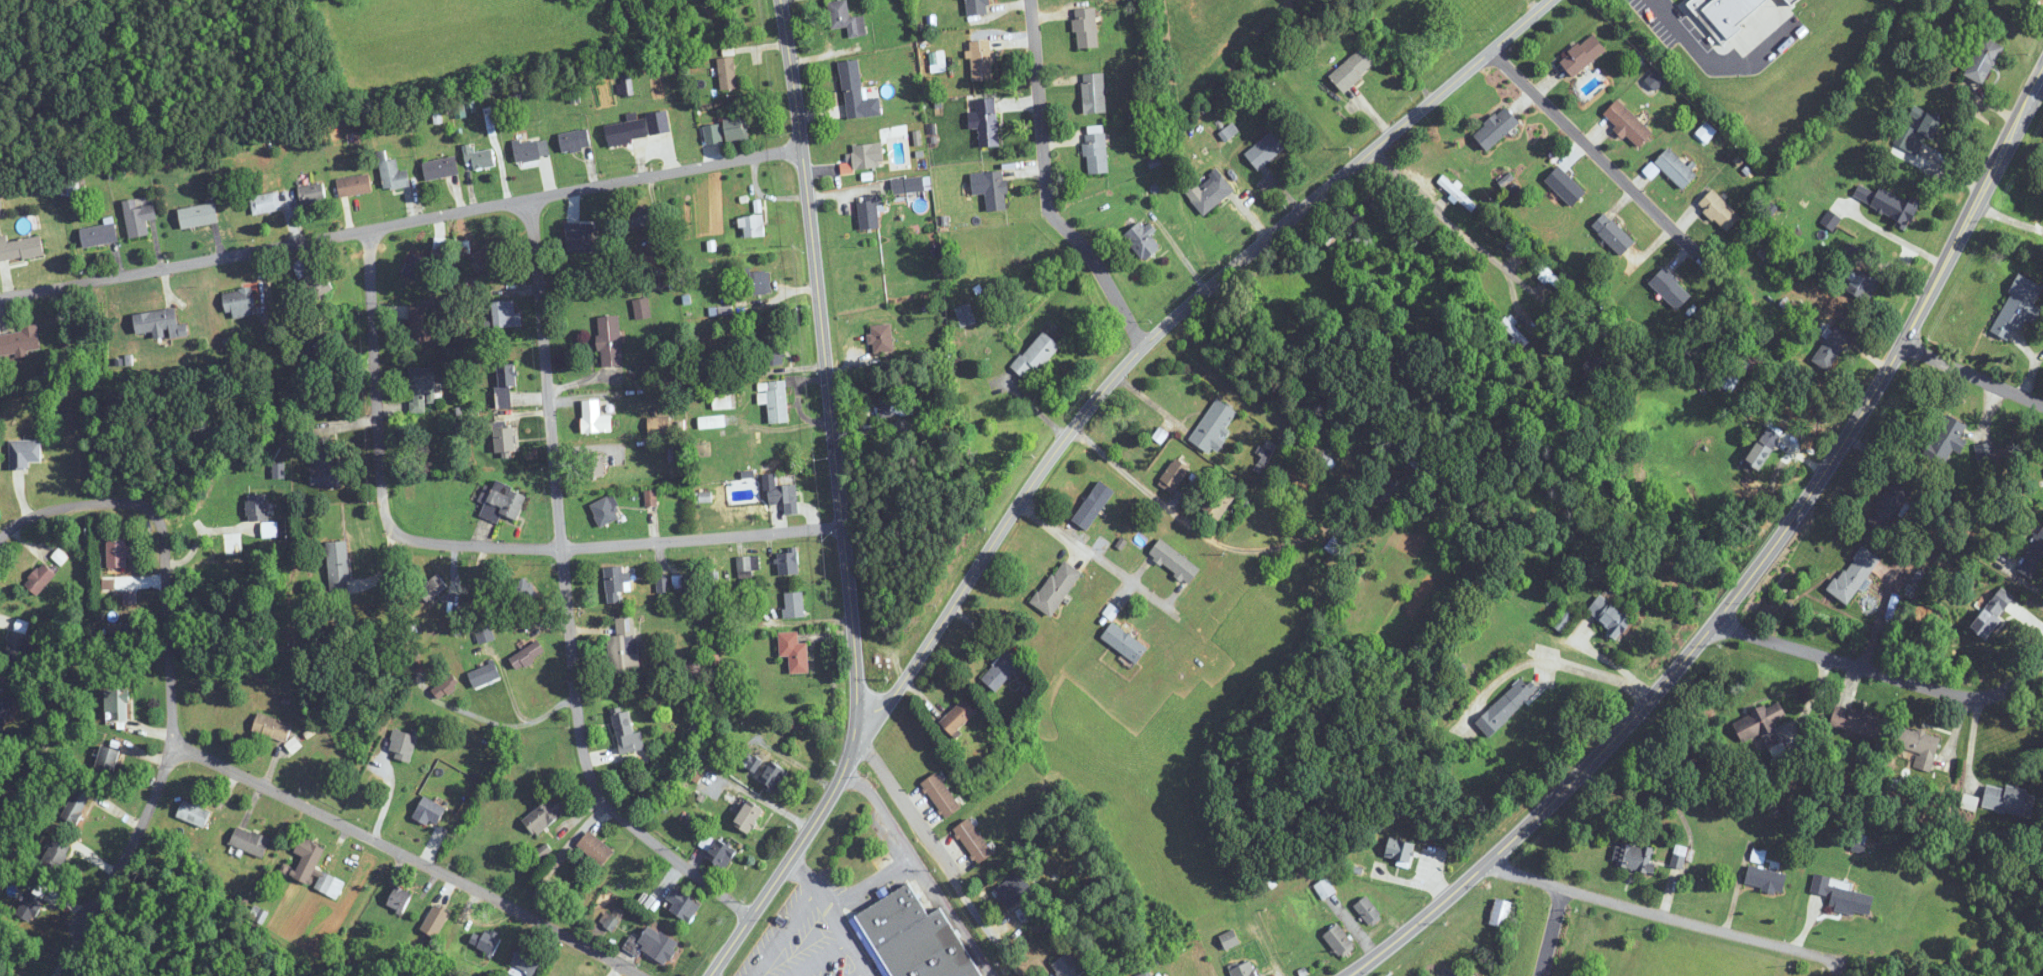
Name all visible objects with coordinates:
building: (1793, 1)
building: (976, 7)
building: (630, 13)
building: (1725, 14)
building: (846, 19)
building: (1086, 28)
building: (1583, 55)
building: (1984, 60)
building: (982, 61)
road: (1712, 65)
building: (1353, 69)
building: (727, 73)
building: (857, 93)
building: (1093, 93)
building: (1926, 122)
building: (987, 123)
building: (1628, 124)
building: (1496, 128)
building: (735, 129)
building: (626, 132)
building: (574, 141)
building: (527, 150)
building: (1096, 150)
building: (1266, 150)
building: (866, 157)
building: (478, 158)
road: (1609, 166)
building: (440, 168)
building: (1675, 169)
building: (392, 173)
building: (354, 185)
building: (908, 185)
building: (70, 186)
building: (1566, 186)
road: (1046, 188)
building: (995, 191)
building: (312, 193)
building: (1457, 194)
building: (1212, 195)
building: (265, 203)
building: (1886, 203)
building: (870, 211)
building: (1719, 211)
building: (198, 216)
building: (641, 217)
road: (2007, 217)
building: (138, 218)
road: (400, 222)
building: (752, 226)
building: (1613, 234)
building: (98, 235)
road: (1893, 237)
road: (1469, 240)
building: (1142, 241)
building: (1511, 241)
building: (582, 242)
building: (20, 248)
building: (487, 260)
building: (415, 267)
building: (1858, 273)
building: (1548, 276)
building: (313, 281)
building: (758, 282)
building: (1671, 289)
building: (240, 303)
building: (642, 308)
building: (2019, 308)
building: (505, 314)
building: (965, 315)
building: (419, 323)
building: (160, 324)
building: (1514, 332)
building: (881, 338)
building: (609, 340)
building: (19, 341)
road: (1148, 342)
building: (1831, 347)
building: (773, 353)
building: (1036, 354)
building: (1593, 369)
road: (1971, 373)
building: (505, 384)
building: (421, 388)
building: (774, 400)
building: (721, 402)
building: (887, 402)
building: (595, 418)
building: (658, 425)
building: (1213, 426)
building: (504, 438)
building: (1946, 440)
building: (1763, 448)
building: (24, 453)
building: (1985, 453)
building: (325, 463)
building: (593, 465)
building: (1173, 476)
building: (1380, 488)
building: (784, 496)
building: (501, 502)
building: (1218, 503)
road: (840, 504)
building: (1102, 504)
building: (1890, 506)
building: (606, 511)
building: (261, 515)
road: (1187, 520)
road: (204, 533)
road: (463, 545)
building: (117, 553)
building: (2033, 556)
building: (1174, 561)
building: (787, 562)
building: (747, 564)
building: (338, 565)
road: (1115, 568)
road: (1754, 569)
building: (1854, 575)
building: (40, 579)
building: (616, 583)
building: (432, 587)
building: (1056, 588)
building: (524, 591)
road: (566, 596)
building: (794, 604)
building: (1992, 614)
building: (1610, 615)
building: (1564, 619)
building: (1124, 643)
road: (168, 644)
building: (17, 647)
building: (623, 647)
building: (794, 652)
building: (527, 655)
road: (1616, 664)
building: (692, 670)
building: (1001, 670)
road: (1598, 673)
building: (484, 674)
road: (1883, 674)
building: (445, 687)
building: (116, 704)
building: (1506, 707)
building: (958, 717)
building: (1856, 722)
building: (272, 728)
building: (1764, 728)
building: (626, 733)
building: (1918, 742)
building: (402, 745)
building: (106, 761)
building: (695, 773)
building: (772, 777)
road: (387, 792)
building: (941, 796)
building: (2009, 800)
building: (76, 806)
building: (429, 811)
building: (193, 813)
building: (543, 816)
building: (748, 816)
building: (973, 840)
building: (250, 841)
building: (596, 847)
road: (907, 847)
building: (1399, 851)
building: (721, 853)
building: (55, 854)
building: (312, 854)
building: (1678, 856)
building: (1632, 857)
road: (409, 858)
road: (944, 861)
building: (1765, 879)
building: (1266, 880)
building: (328, 884)
building: (1324, 888)
building: (1013, 889)
building: (542, 893)
building: (1843, 895)
building: (399, 899)
building: (683, 903)
building: (29, 906)
building: (1368, 911)
building: (1501, 913)
road: (833, 915)
road: (952, 916)
road: (1686, 919)
building: (435, 921)
road: (780, 928)
road: (1550, 930)
building: (915, 937)
building: (1229, 939)
building: (1339, 940)
building: (486, 941)
building: (657, 944)
building: (1590, 945)
road: (549, 955)
building: (525, 961)
building: (1068, 965)
building: (1245, 969)
building: (1148, 974)
building: (21, 975)

